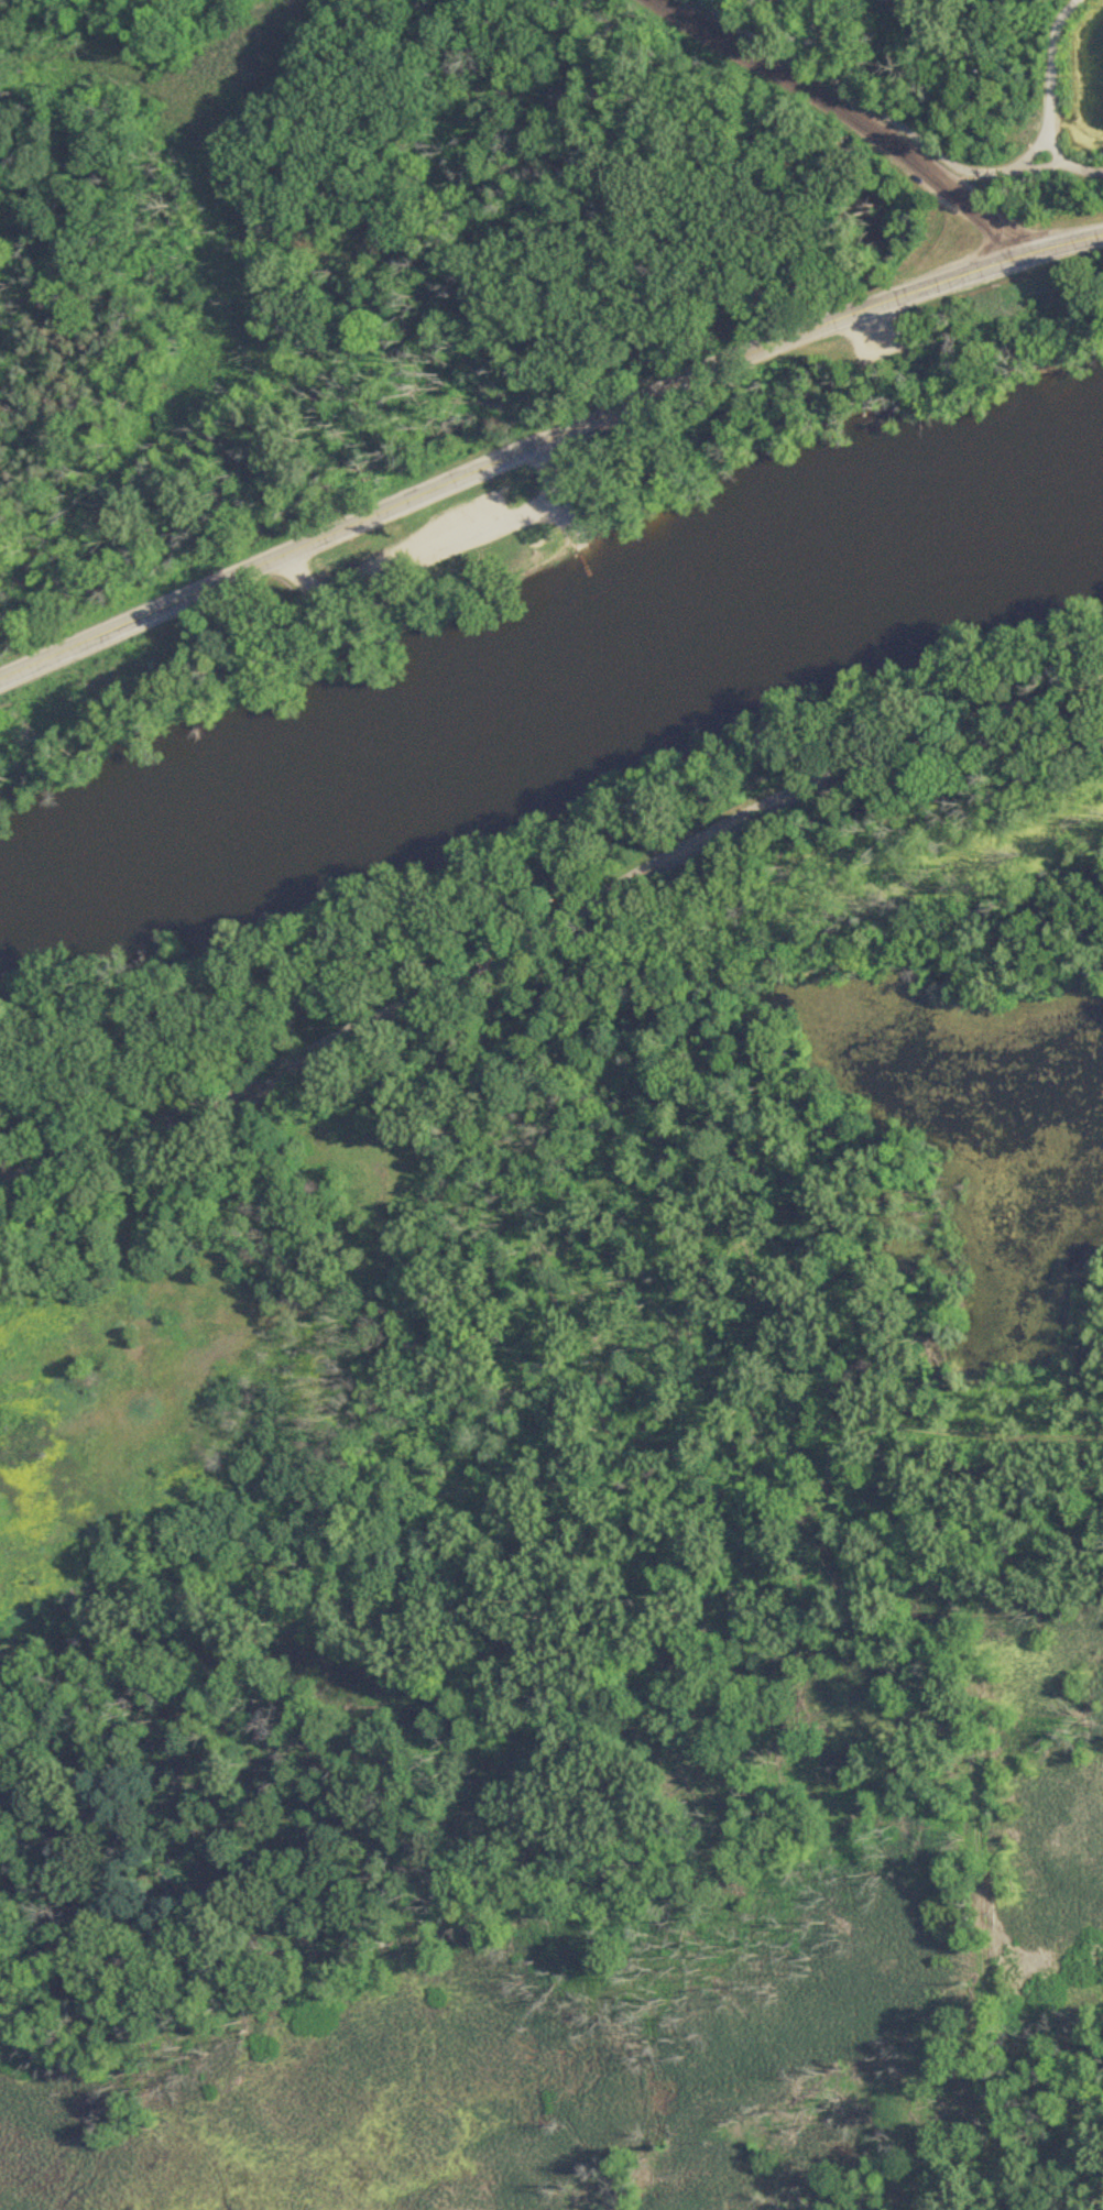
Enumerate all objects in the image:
road: (1051, 84)
road: (839, 85)
road: (859, 117)
road: (1030, 153)
road: (1017, 171)
road: (1085, 173)
park: (435, 227)
road: (545, 444)
parking lot: (446, 532)
road: (440, 548)
park: (422, 565)
river: (556, 692)
road: (549, 923)

